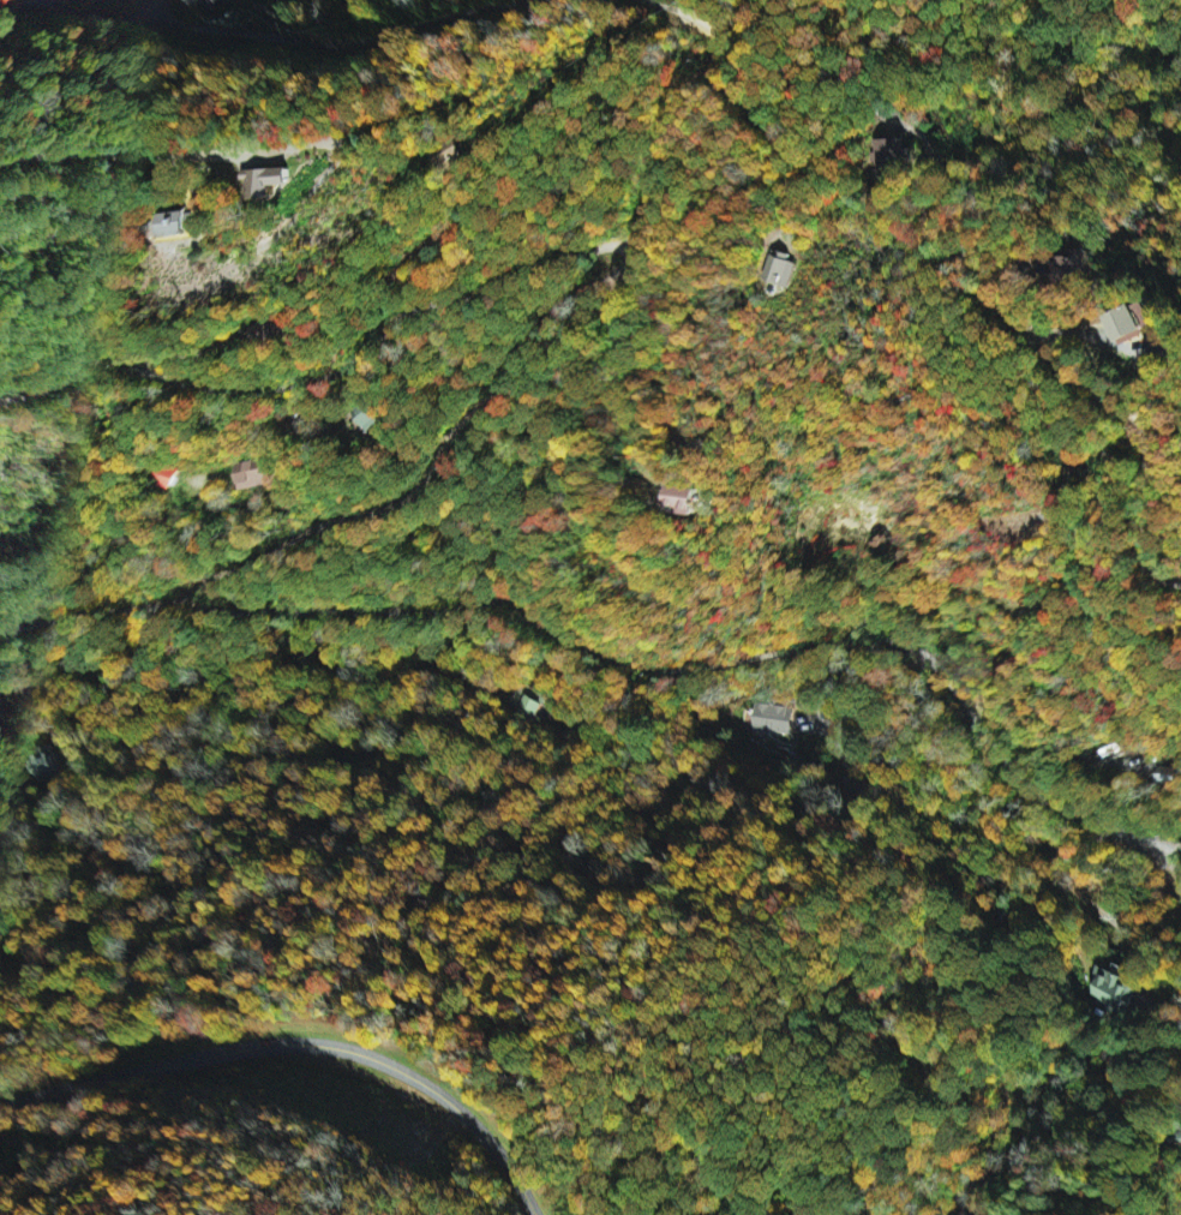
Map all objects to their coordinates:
building: (209, 1)
road: (682, 10)
building: (892, 152)
road: (121, 154)
building: (257, 181)
building: (175, 225)
building: (781, 270)
building: (1126, 324)
road: (924, 339)
road: (325, 376)
road: (515, 382)
building: (259, 475)
building: (166, 479)
building: (681, 501)
road: (617, 654)
building: (530, 705)
building: (772, 719)
road: (1173, 849)
road: (1173, 864)
road: (1093, 906)
building: (1116, 990)
road: (1164, 1002)
road: (299, 1043)

